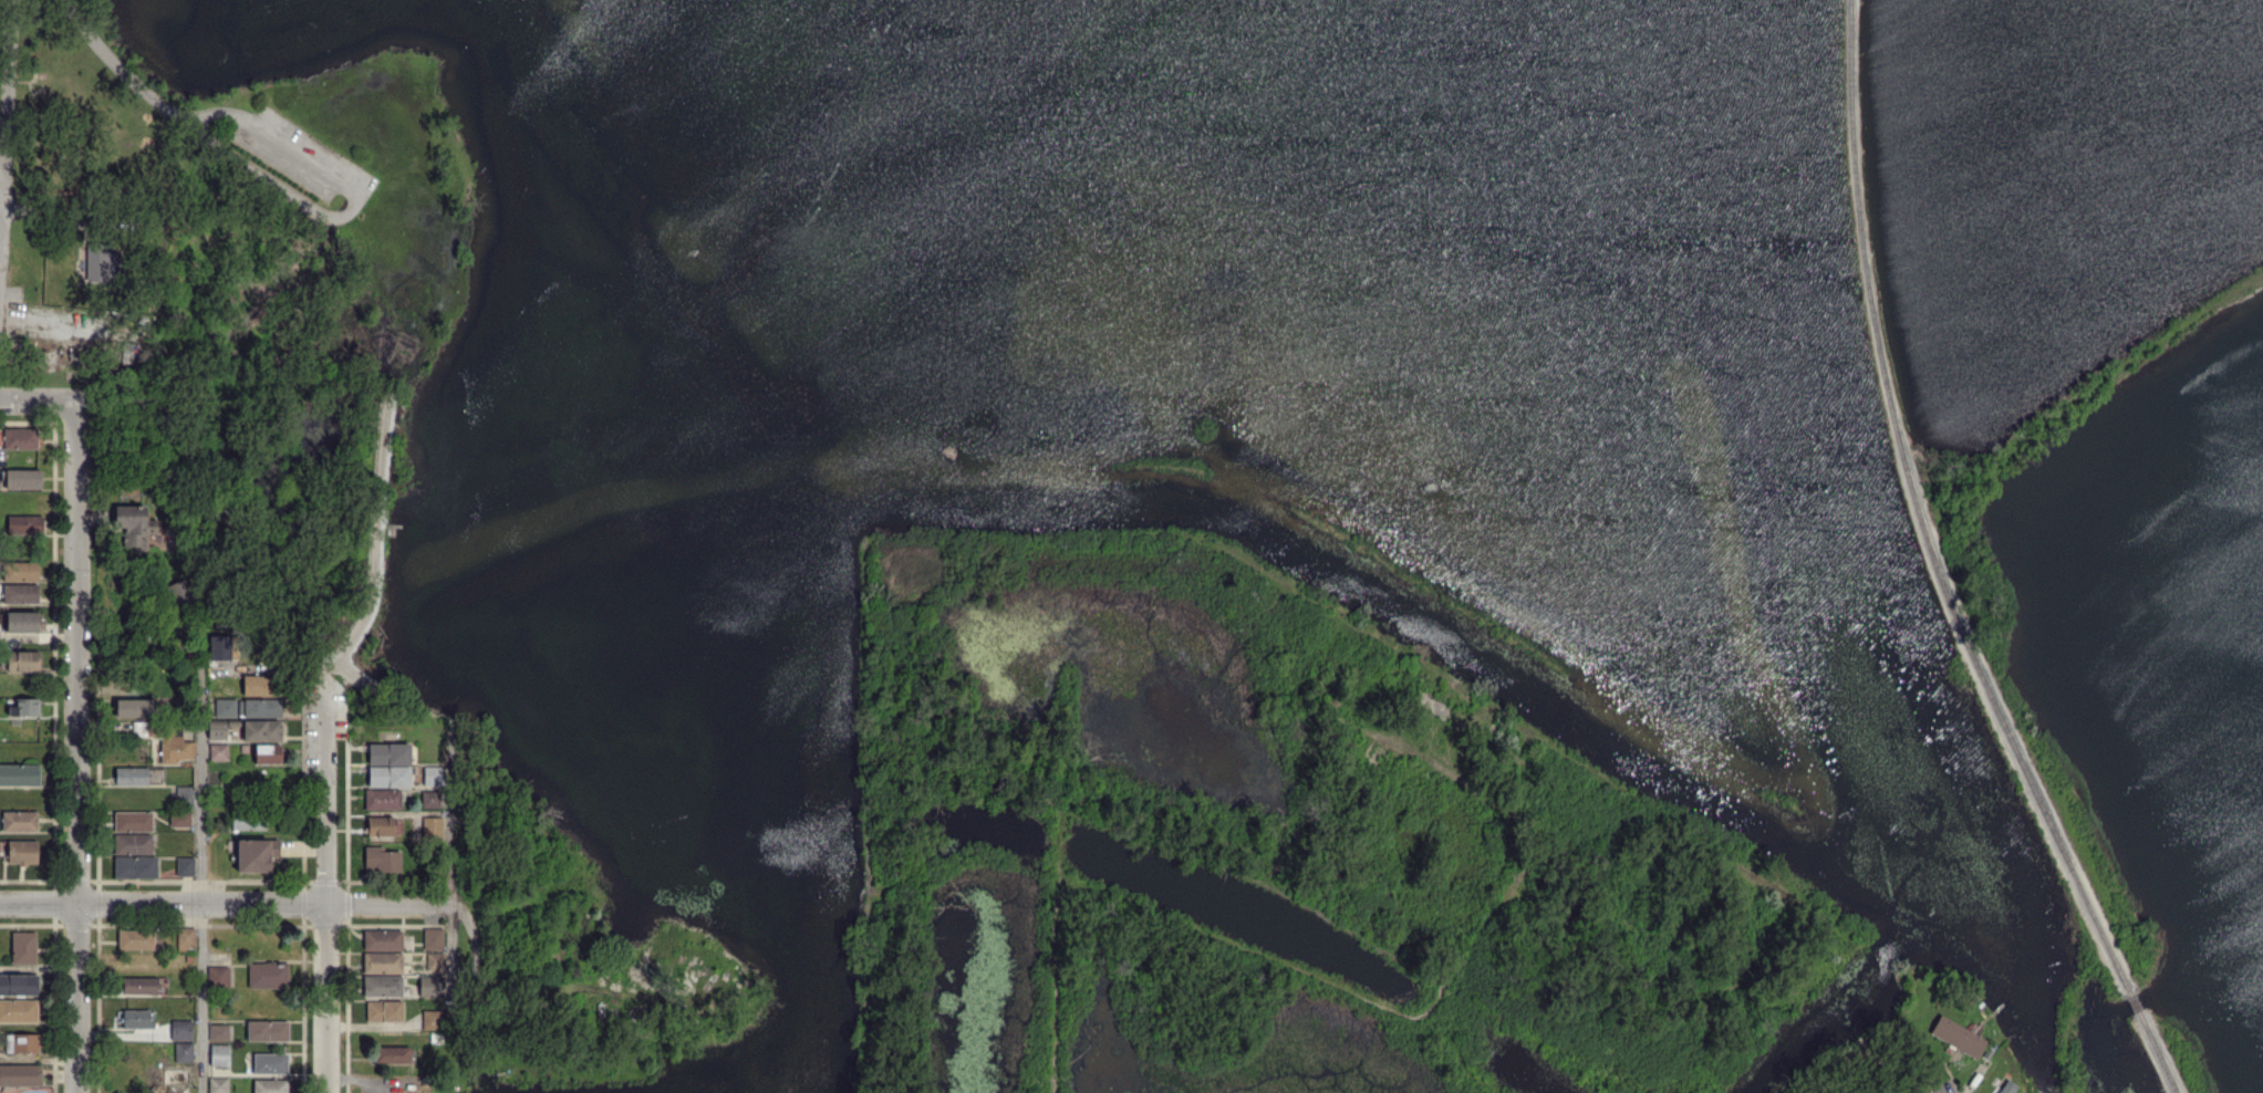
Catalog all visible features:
road: (212, 114)
road: (200, 133)
road: (301, 155)
parking lot: (301, 157)
road: (3, 171)
building: (97, 262)
road: (38, 399)
building: (20, 436)
building: (22, 477)
park: (1226, 507)
railway: (1920, 517)
building: (23, 523)
building: (133, 524)
building: (21, 571)
building: (179, 592)
building: (20, 595)
building: (22, 623)
building: (220, 648)
building: (23, 660)
building: (262, 686)
building: (180, 696)
building: (210, 700)
building: (25, 706)
building: (134, 708)
building: (185, 709)
building: (225, 709)
building: (260, 709)
building: (238, 725)
building: (216, 729)
building: (266, 731)
building: (165, 741)
road: (75, 747)
building: (245, 749)
building: (218, 753)
building: (267, 753)
building: (390, 753)
building: (19, 775)
building: (432, 775)
building: (390, 777)
building: (132, 778)
building: (186, 799)
building: (383, 800)
building: (430, 800)
building: (217, 812)
building: (180, 820)
building: (19, 822)
building: (133, 822)
building: (249, 822)
building: (378, 827)
building: (434, 830)
road: (201, 834)
building: (133, 845)
building: (22, 854)
building: (258, 856)
building: (382, 860)
building: (135, 867)
building: (185, 867)
building: (215, 868)
road: (450, 874)
road: (326, 894)
road: (226, 905)
building: (185, 938)
building: (434, 939)
building: (135, 940)
building: (382, 940)
building: (23, 949)
building: (188, 959)
building: (435, 962)
building: (382, 964)
building: (267, 976)
building: (218, 977)
building: (19, 986)
building: (138, 986)
building: (385, 986)
building: (433, 987)
railway: (2135, 1003)
building: (18, 1011)
building: (385, 1012)
building: (136, 1019)
building: (433, 1020)
building: (181, 1031)
building: (268, 1031)
building: (218, 1032)
building: (1958, 1038)
building: (438, 1039)
building: (492, 1041)
building: (22, 1044)
building: (1989, 1052)
railway: (2157, 1052)
building: (183, 1053)
building: (218, 1053)
building: (573, 1053)
building: (393, 1055)
building: (269, 1064)
building: (20, 1075)
building: (173, 1076)
building: (218, 1085)
building: (271, 1086)
road: (1942, 1087)
building: (2005, 1087)

